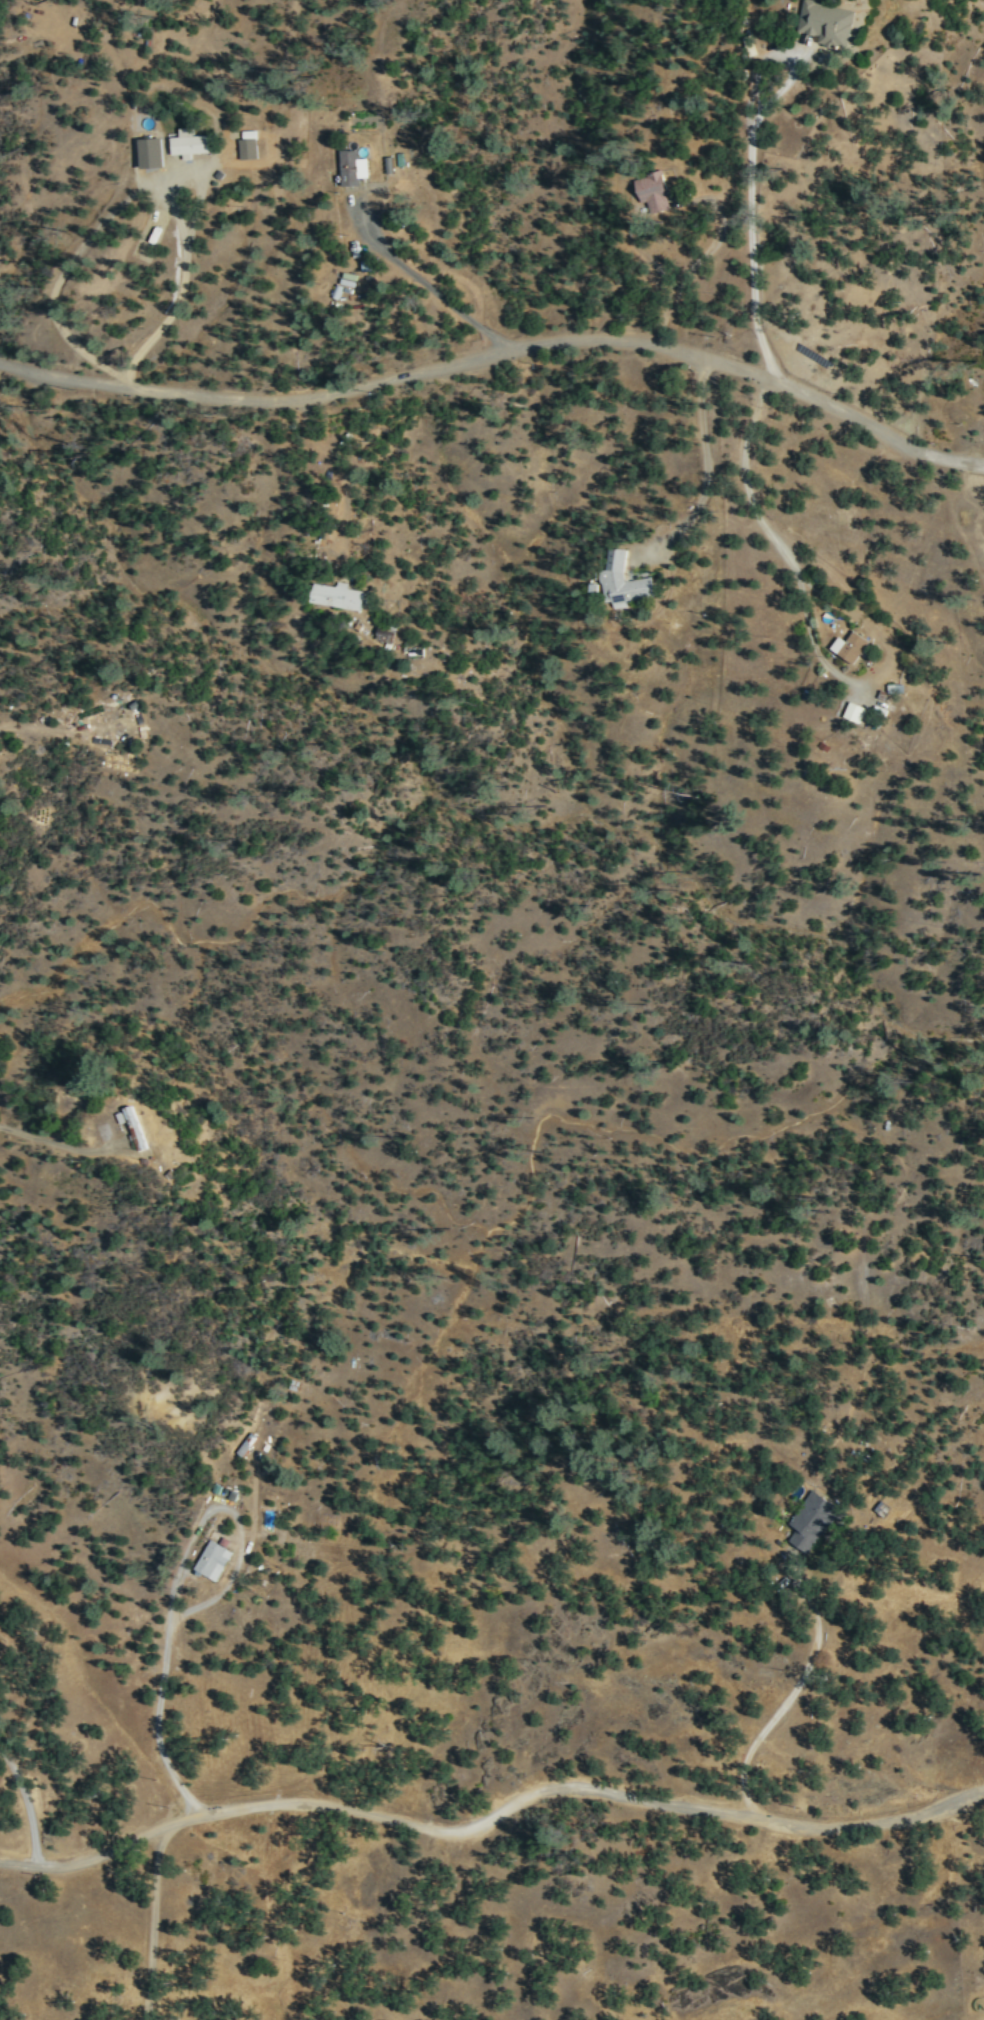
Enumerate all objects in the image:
building: (827, 20)
building: (190, 142)
building: (247, 147)
building: (150, 151)
building: (389, 163)
building: (352, 166)
building: (653, 192)
road: (501, 355)
building: (623, 580)
building: (337, 595)
building: (850, 645)
building: (854, 710)
building: (134, 1127)
building: (811, 1520)
building: (213, 1559)
road: (493, 1812)

